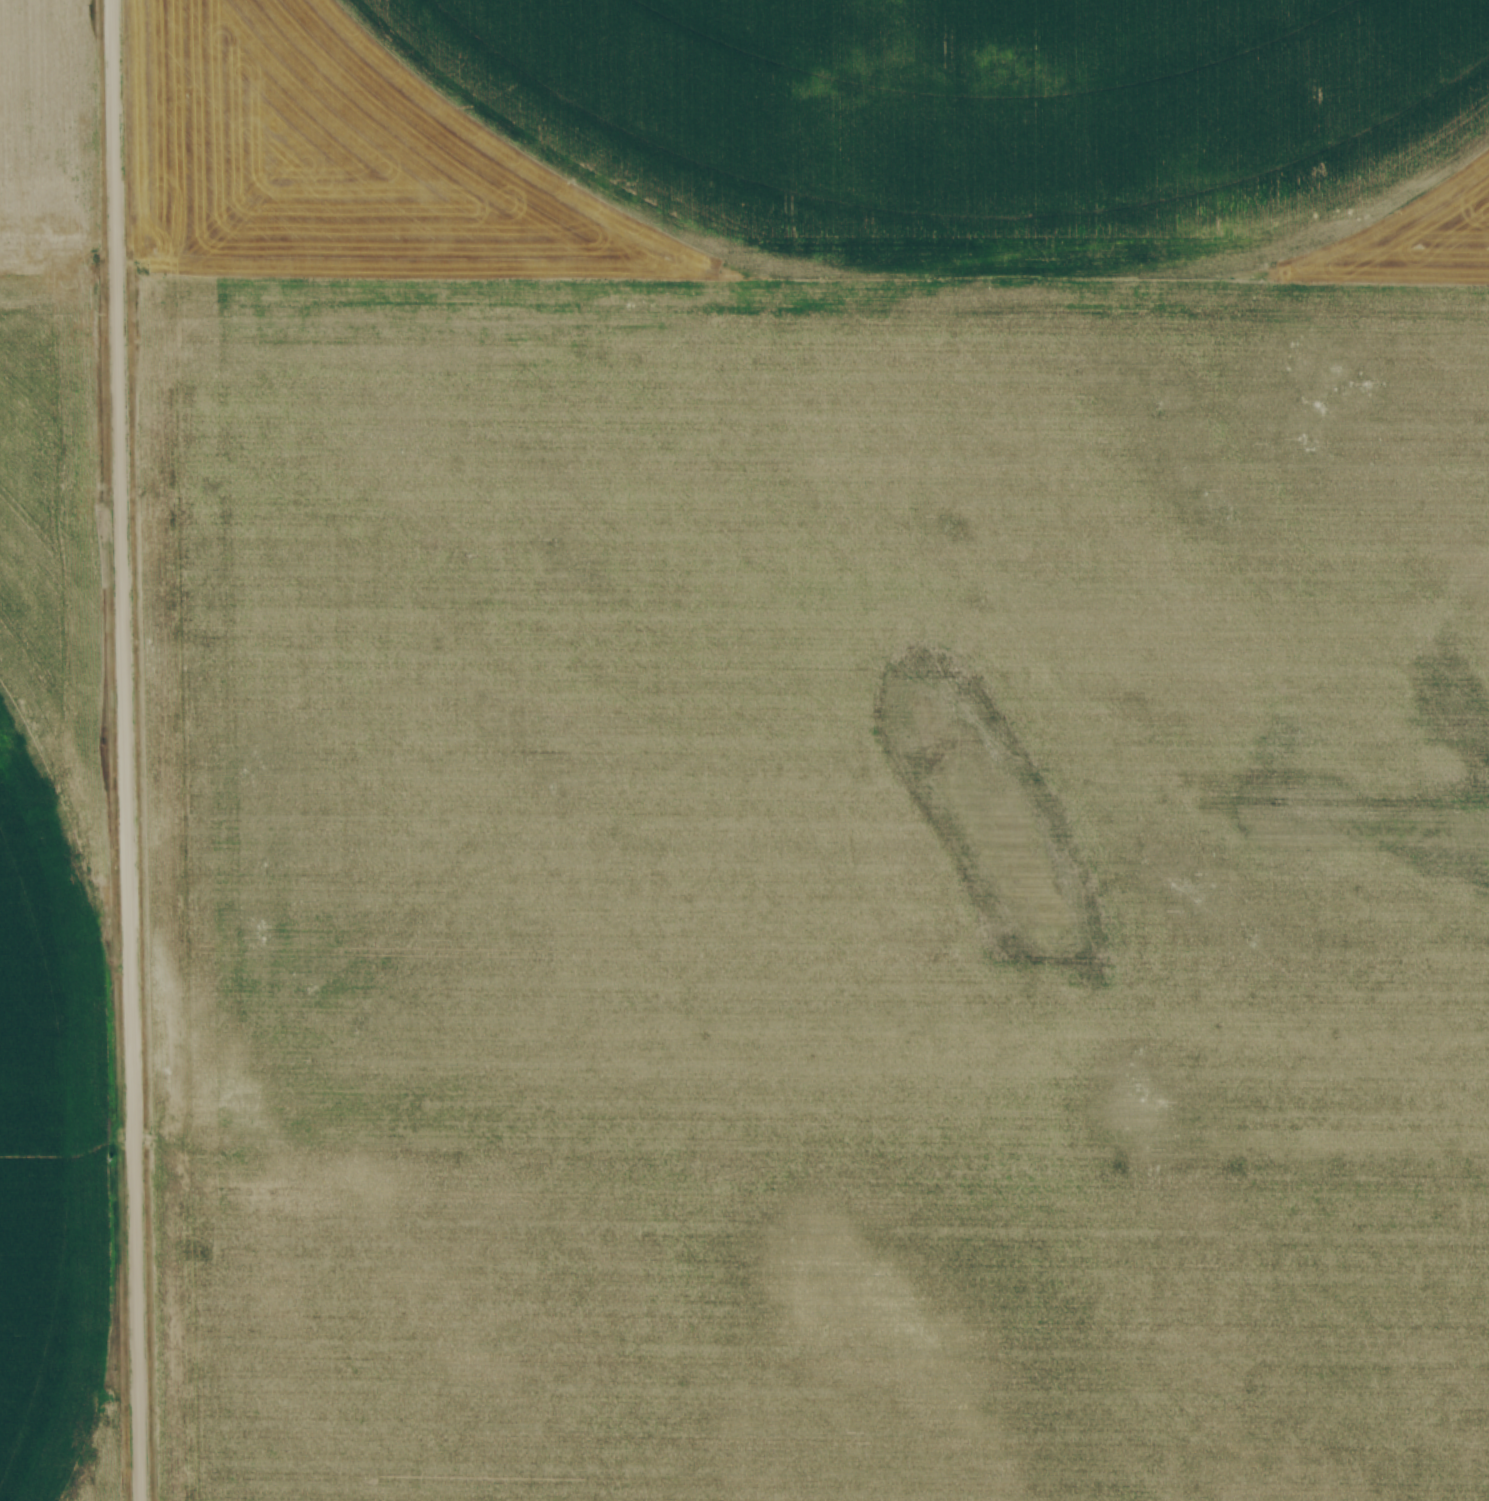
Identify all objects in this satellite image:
road: (126, 750)

